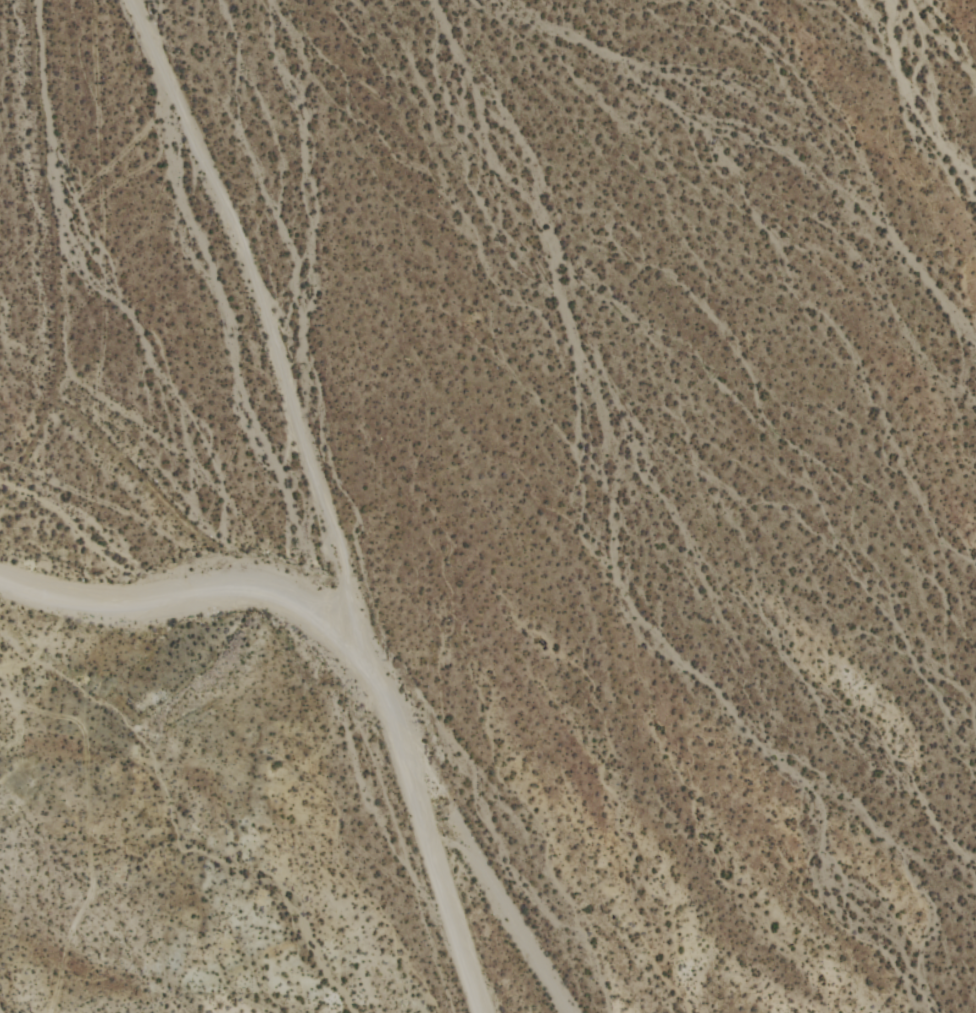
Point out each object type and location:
road: (266, 331)
road: (198, 593)
road: (431, 842)
road: (485, 879)

